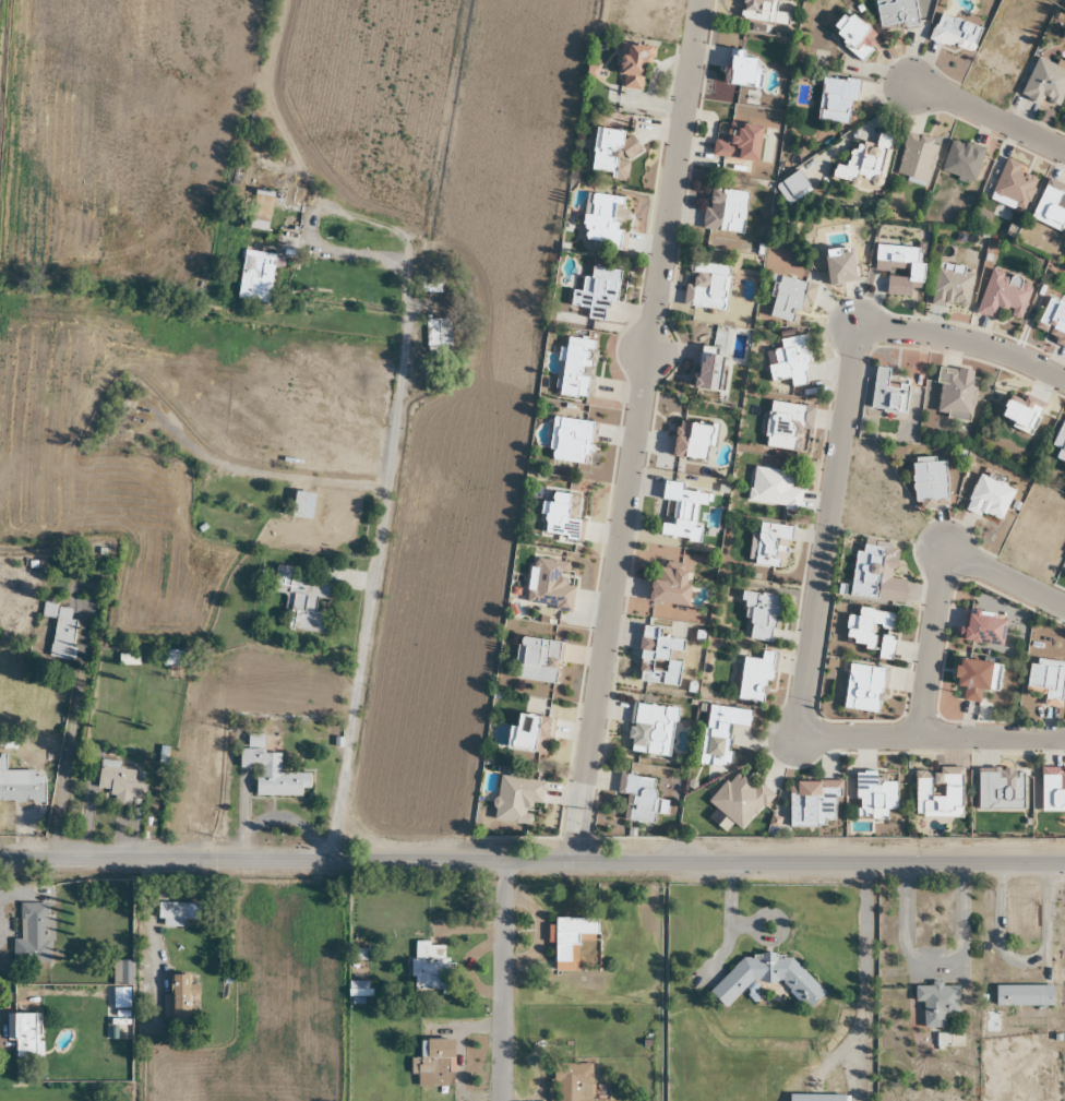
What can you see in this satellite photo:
building: (756, 10)
building: (895, 14)
building: (954, 34)
building: (632, 64)
building: (742, 71)
building: (1045, 84)
building: (836, 100)
road: (991, 125)
building: (737, 141)
building: (611, 153)
building: (914, 157)
building: (961, 160)
building: (864, 163)
building: (1013, 184)
building: (1051, 206)
building: (723, 211)
building: (606, 220)
building: (838, 265)
building: (913, 271)
building: (254, 276)
building: (430, 285)
building: (707, 286)
building: (949, 286)
building: (596, 291)
building: (1002, 296)
building: (789, 299)
building: (1053, 315)
building: (436, 336)
building: (790, 361)
building: (576, 368)
building: (708, 370)
building: (955, 392)
building: (886, 394)
building: (1019, 411)
building: (786, 424)
road: (642, 432)
road: (386, 439)
building: (571, 440)
building: (691, 440)
building: (1060, 442)
building: (1064, 470)
building: (929, 481)
building: (771, 489)
building: (988, 498)
building: (301, 505)
building: (681, 511)
building: (560, 518)
building: (770, 544)
road: (819, 554)
building: (874, 574)
road: (941, 576)
building: (548, 586)
building: (668, 586)
building: (300, 599)
building: (759, 617)
building: (866, 626)
building: (980, 627)
building: (60, 632)
building: (885, 646)
building: (658, 657)
building: (127, 660)
building: (173, 660)
building: (537, 660)
building: (754, 678)
building: (969, 680)
building: (1046, 680)
building: (862, 687)
building: (650, 729)
road: (72, 731)
building: (719, 732)
building: (530, 734)
building: (271, 774)
building: (119, 783)
building: (20, 788)
building: (998, 789)
building: (1052, 790)
building: (937, 793)
building: (872, 795)
building: (637, 798)
building: (515, 799)
building: (739, 800)
building: (812, 802)
road: (532, 861)
building: (177, 911)
road: (146, 917)
building: (33, 935)
building: (569, 941)
road: (1027, 962)
road: (938, 965)
building: (428, 966)
building: (121, 973)
road: (503, 981)
building: (740, 981)
road: (866, 981)
building: (1022, 996)
building: (177, 998)
building: (936, 1004)
building: (143, 1022)
building: (23, 1027)
building: (433, 1064)
building: (572, 1082)
building: (814, 1098)

